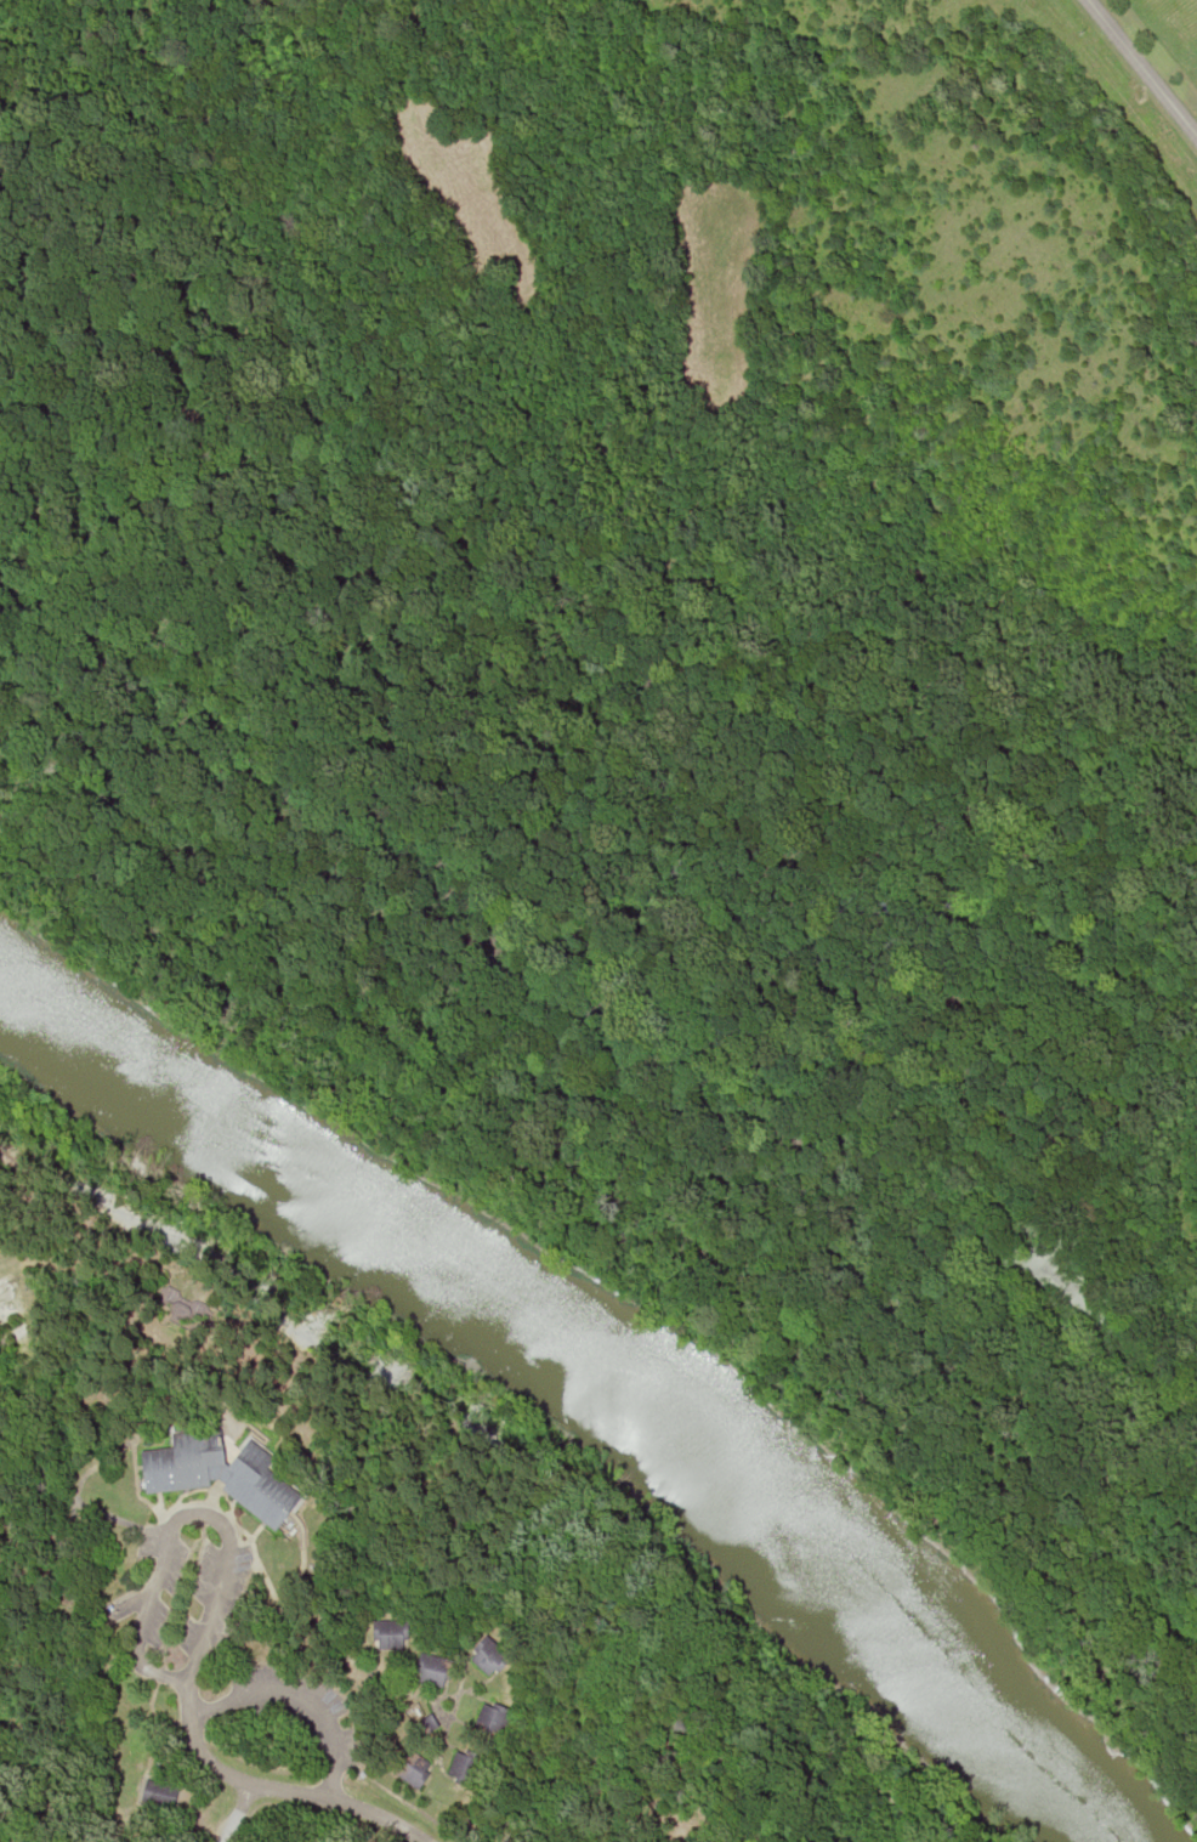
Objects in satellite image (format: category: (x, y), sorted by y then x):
road: (1141, 68)
building: (220, 1474)
road: (177, 1514)
building: (388, 1633)
building: (488, 1655)
building: (432, 1670)
road: (290, 1698)
building: (489, 1721)
building: (461, 1766)
building: (410, 1768)
road: (274, 1787)
building: (157, 1793)
road: (236, 1812)

